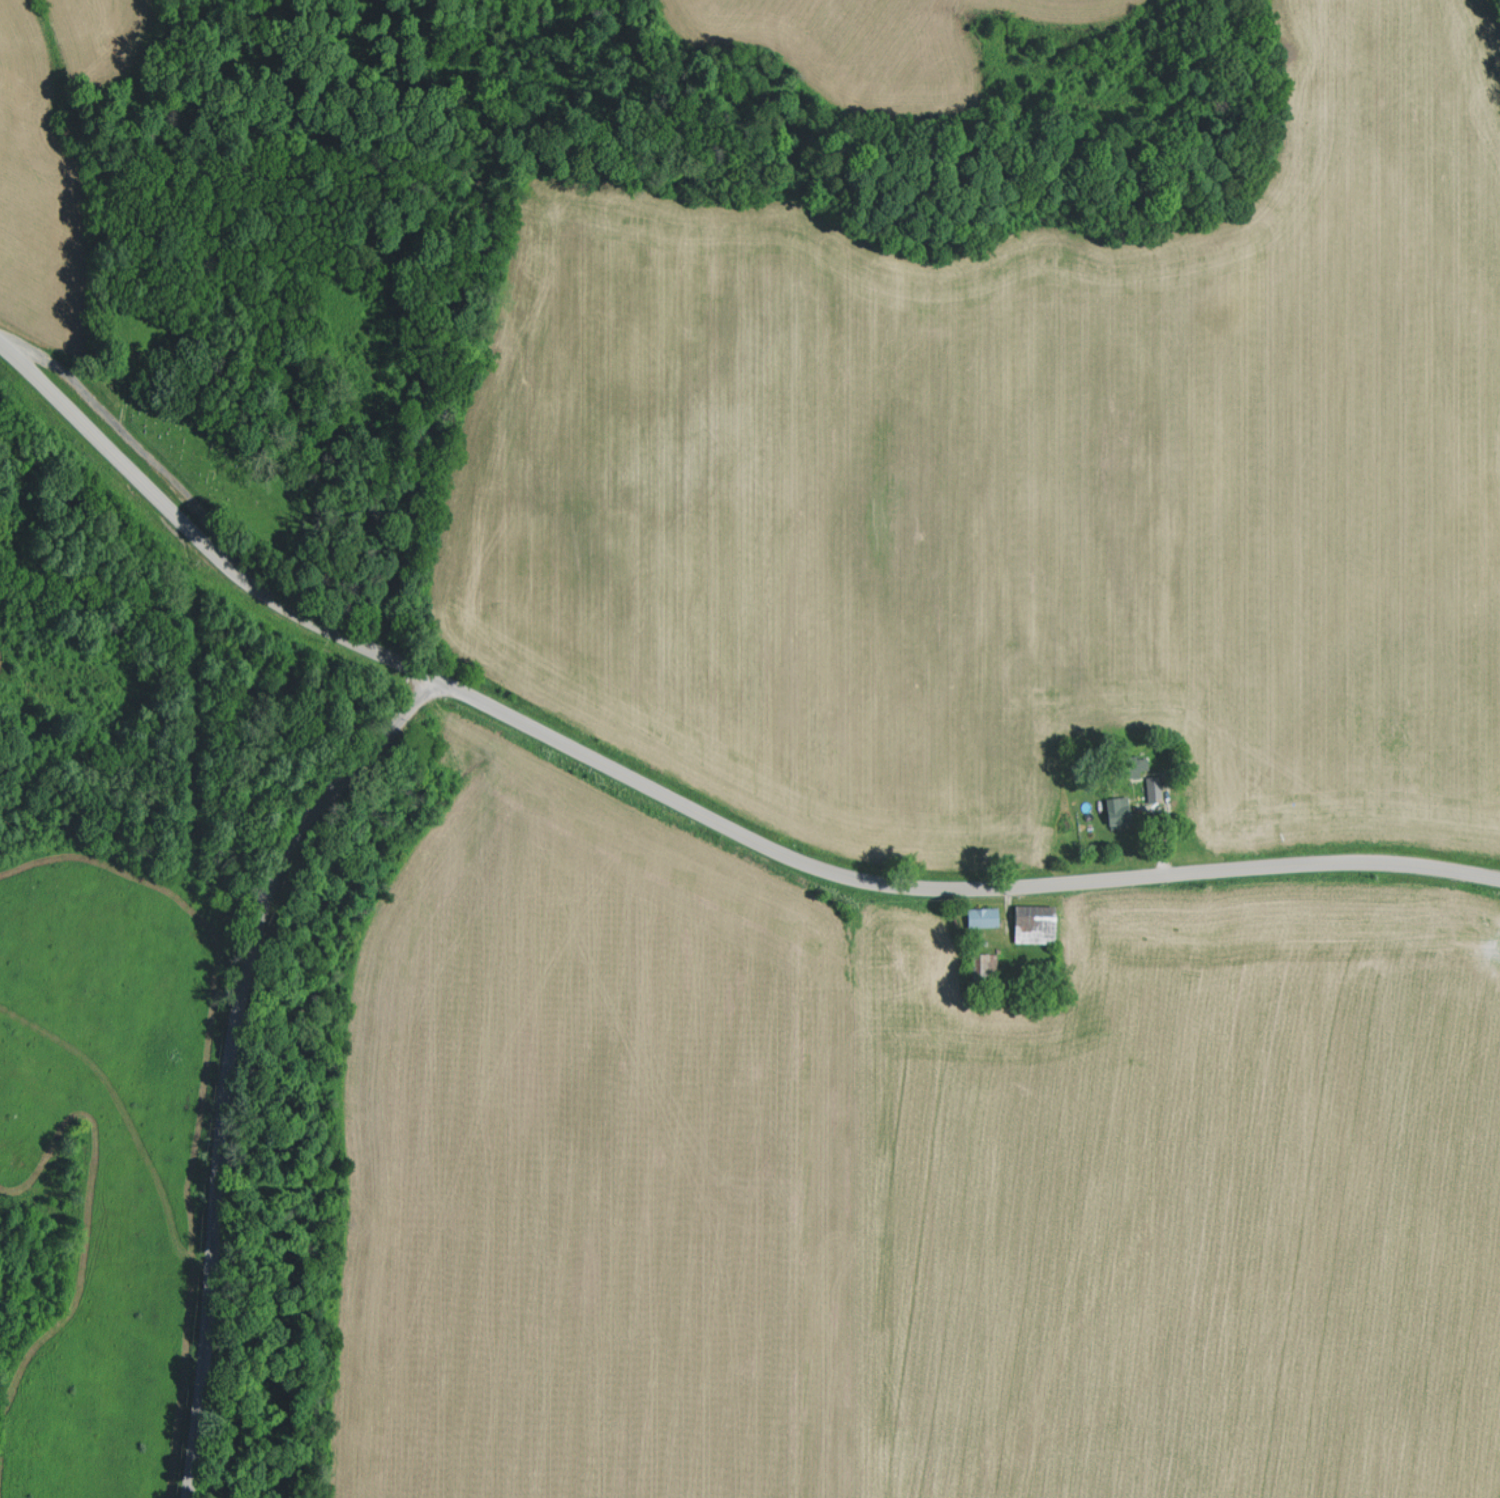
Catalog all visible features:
park: (208, 448)
road: (195, 538)
building: (1159, 789)
building: (1124, 806)
road: (938, 893)
building: (986, 917)
building: (1039, 924)
road: (235, 1064)

